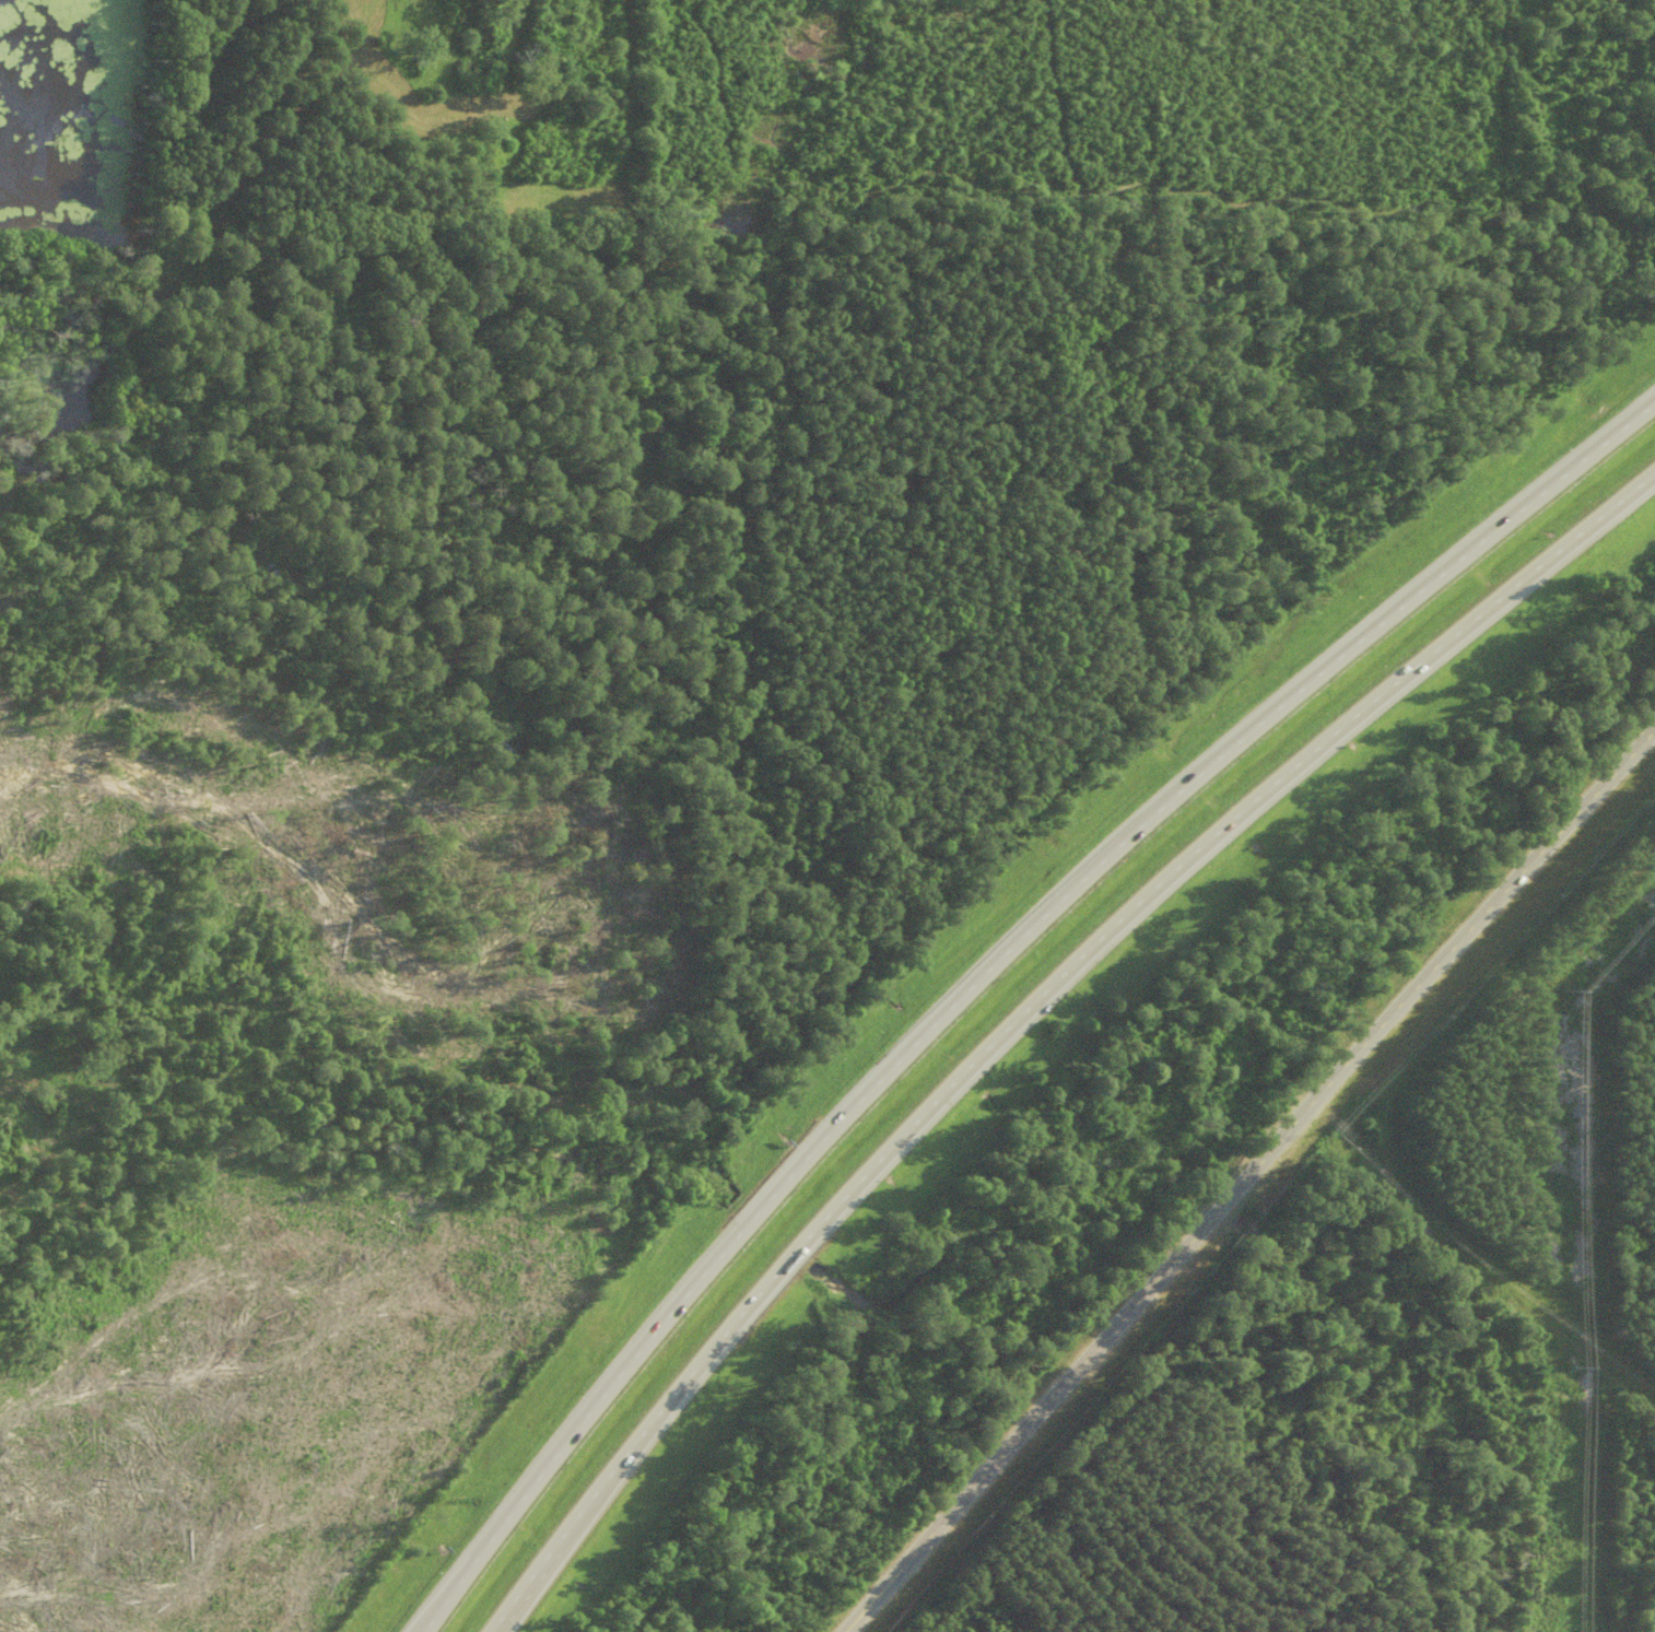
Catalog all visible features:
road: (350, 553)
road: (993, 964)
road: (1032, 1009)
road: (1360, 1043)
road: (959, 1502)
road: (426, 1629)

